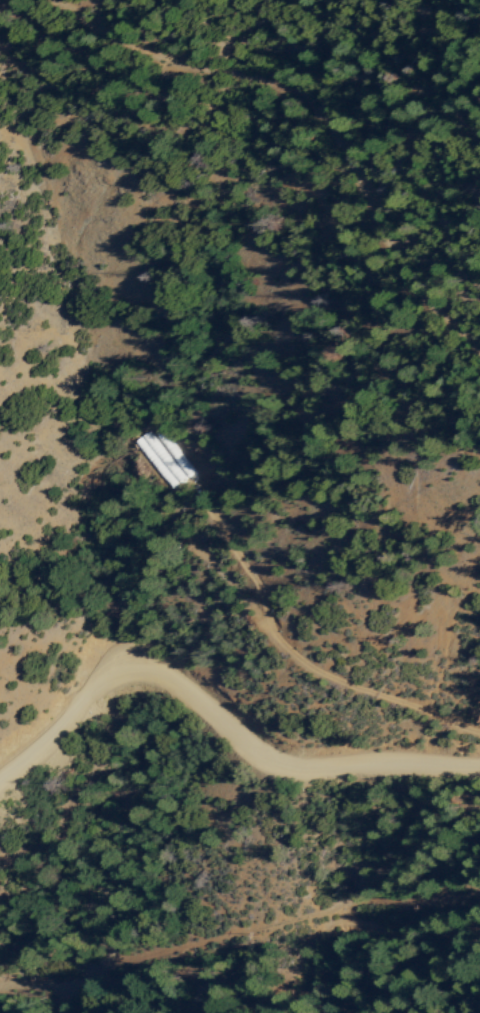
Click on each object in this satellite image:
road: (220, 744)
road: (239, 944)

